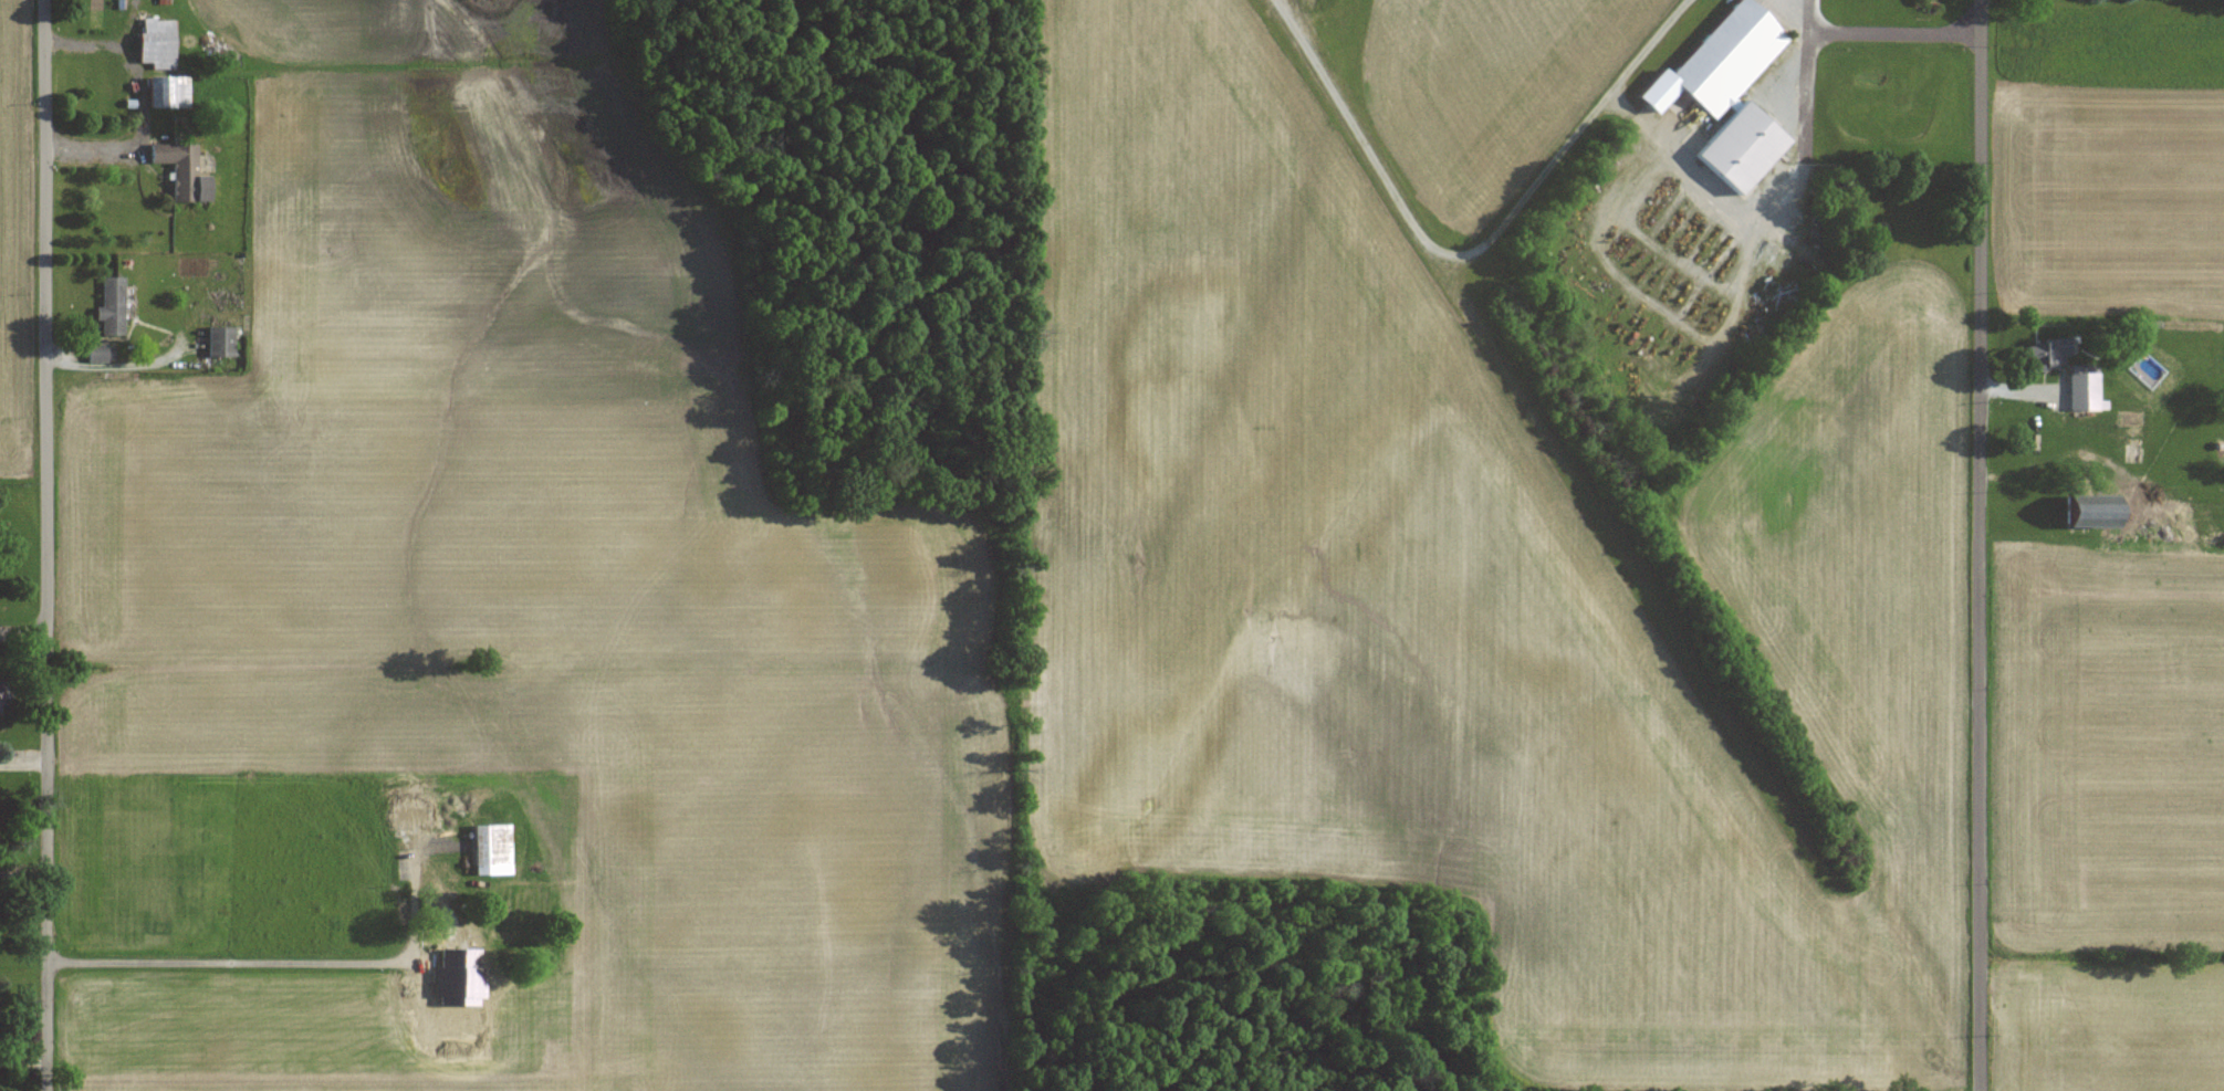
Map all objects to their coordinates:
road: (1887, 31)
building: (159, 42)
building: (1724, 59)
building: (170, 93)
road: (142, 113)
building: (185, 172)
road: (1769, 209)
road: (1470, 248)
building: (114, 307)
building: (223, 343)
road: (118, 347)
building: (102, 353)
building: (2040, 354)
building: (2077, 384)
building: (2085, 512)
road: (48, 545)
road: (1984, 545)
road: (24, 632)
building: (2, 694)
building: (494, 849)
building: (457, 930)
road: (289, 958)
building: (455, 965)

